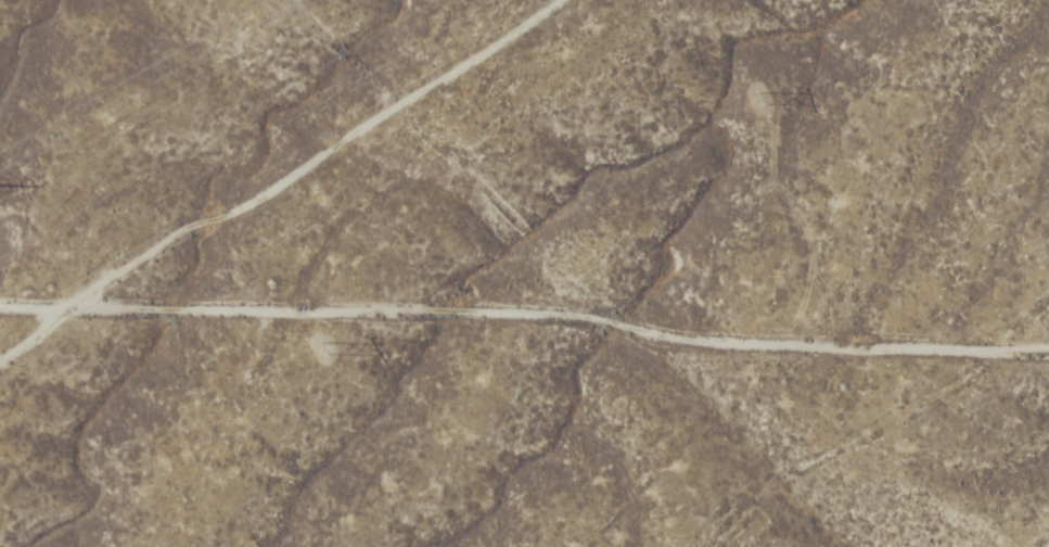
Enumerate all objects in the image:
power tower: (768, 97)
road: (524, 332)
power tower: (332, 352)

